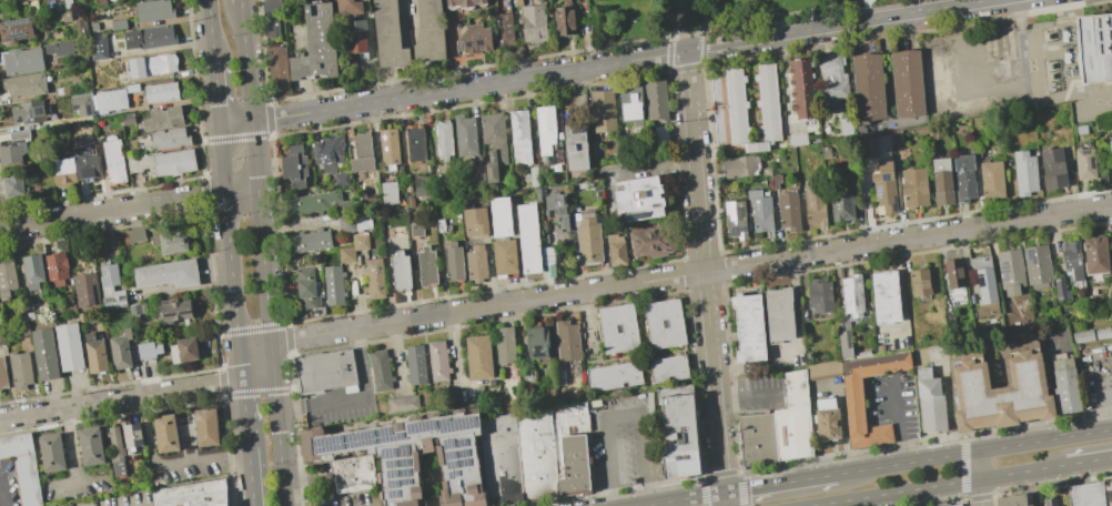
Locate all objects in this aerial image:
building: (100, 1)
building: (463, 2)
building: (67, 3)
building: (58, 6)
building: (271, 7)
building: (347, 7)
park: (751, 8)
building: (152, 10)
road: (870, 10)
road: (684, 12)
building: (65, 16)
road: (779, 16)
park: (706, 18)
building: (563, 20)
rooftop solar panel: (16, 22)
building: (534, 23)
building: (118, 24)
road: (837, 24)
building: (271, 26)
building: (503, 26)
building: (79, 27)
building: (16, 30)
road: (210, 30)
building: (429, 31)
rooftop solar panel: (16, 34)
building: (388, 34)
building: (149, 37)
building: (356, 38)
road: (685, 38)
building: (473, 39)
building: (315, 44)
building: (59, 48)
building: (98, 48)
building: (1094, 49)
building: (21, 60)
building: (152, 64)
power substation: (1021, 64)
building: (276, 70)
building: (123, 78)
building: (831, 79)
building: (907, 82)
building: (24, 84)
road: (468, 85)
building: (868, 87)
building: (801, 88)
building: (161, 92)
road: (215, 93)
building: (655, 99)
building: (110, 101)
building: (630, 103)
building: (81, 105)
building: (744, 107)
building: (602, 110)
building: (30, 112)
building: (163, 118)
building: (128, 119)
road: (236, 123)
building: (1098, 125)
rooftop solar panel: (578, 128)
building: (544, 129)
building: (494, 132)
building: (19, 134)
road: (253, 135)
building: (660, 135)
building: (465, 136)
building: (519, 136)
building: (169, 138)
building: (797, 139)
building: (443, 140)
building: (416, 143)
building: (1110, 145)
building: (388, 146)
building: (575, 148)
building: (1083, 151)
building: (328, 153)
building: (362, 153)
rooftop solar panel: (1084, 153)
building: (10, 154)
building: (113, 160)
building: (163, 161)
building: (84, 162)
rooftop solar panel: (1091, 164)
building: (491, 165)
building: (738, 165)
building: (1111, 165)
building: (293, 166)
building: (1054, 168)
building: (1102, 168)
building: (62, 172)
building: (478, 172)
building: (1110, 172)
building: (1023, 173)
building: (533, 176)
building: (341, 178)
building: (963, 178)
building: (439, 180)
building: (941, 180)
building: (991, 180)
building: (775, 181)
building: (12, 184)
building: (421, 186)
building: (913, 188)
road: (242, 191)
building: (388, 193)
building: (539, 193)
rooftop solar panel: (878, 193)
building: (881, 196)
building: (638, 198)
building: (841, 200)
building: (311, 202)
building: (815, 205)
rooftop solar panel: (894, 208)
building: (556, 210)
building: (759, 210)
road: (113, 211)
rooftop solar panel: (729, 211)
rooftop solar panel: (739, 211)
building: (788, 211)
building: (499, 215)
rooftop solar panel: (636, 215)
building: (345, 216)
building: (735, 219)
building: (475, 221)
building: (442, 226)
building: (416, 229)
rooftop solar panel: (736, 231)
building: (135, 235)
building: (587, 236)
building: (528, 239)
building: (171, 241)
building: (311, 241)
building: (650, 242)
building: (353, 247)
building: (615, 250)
road: (264, 252)
building: (1095, 253)
rooftop solar panel: (1030, 254)
building: (505, 256)
building: (1072, 257)
building: (453, 263)
building: (476, 263)
rooftop solar panel: (1002, 264)
road: (232, 265)
building: (427, 266)
building: (1038, 266)
building: (55, 267)
building: (548, 270)
building: (32, 271)
rooftop solar panel: (103, 271)
building: (1010, 271)
building: (400, 272)
building: (1111, 272)
building: (166, 273)
rooftop solar panel: (1003, 274)
building: (7, 276)
building: (373, 277)
road: (704, 279)
building: (919, 280)
rooftop solar panel: (105, 282)
building: (956, 282)
building: (333, 284)
building: (110, 286)
building: (984, 286)
building: (306, 287)
building: (85, 289)
building: (1060, 289)
building: (852, 294)
building: (820, 295)
road: (548, 296)
building: (886, 296)
building: (808, 302)
building: (1106, 308)
building: (134, 310)
building: (174, 310)
rooftop solar panel: (185, 310)
rooftop solar panel: (169, 313)
building: (779, 313)
building: (949, 316)
building: (1111, 316)
building: (664, 323)
building: (748, 326)
building: (617, 327)
building: (1102, 333)
building: (1082, 336)
building: (843, 338)
building: (566, 341)
building: (537, 344)
building: (504, 345)
building: (69, 347)
building: (880, 348)
building: (120, 350)
building: (149, 350)
building: (182, 350)
rooftop solar panel: (539, 350)
building: (94, 353)
building: (44, 354)
parking lot: (937, 355)
building: (478, 357)
building: (437, 361)
building: (415, 364)
building: (1111, 364)
building: (668, 367)
building: (326, 370)
building: (380, 370)
road: (732, 370)
building: (20, 371)
building: (822, 371)
building: (2, 374)
building: (527, 374)
building: (613, 375)
building: (560, 377)
building: (1065, 385)
building: (1001, 387)
building: (0, 391)
parking lot: (760, 394)
road: (747, 396)
road: (354, 397)
building: (855, 401)
building: (930, 401)
building: (402, 403)
parking lot: (893, 404)
road: (950, 409)
road: (624, 412)
building: (793, 419)
building: (828, 419)
rooftop solar panel: (461, 422)
rooftop solar panel: (427, 424)
road: (900, 426)
building: (206, 427)
road: (843, 429)
building: (679, 432)
rooftop solar panel: (390, 433)
building: (166, 434)
rooftop solar panel: (362, 436)
building: (133, 437)
rooftop solar panel: (451, 439)
rooftop solar panel: (464, 439)
building: (757, 439)
rooftop solar panel: (331, 441)
parking lot: (625, 442)
road: (72, 446)
building: (91, 446)
building: (572, 447)
rooftop solar panel: (406, 449)
rooftop solar panel: (388, 451)
rooftop solar panel: (466, 451)
building: (115, 452)
road: (973, 452)
building: (52, 453)
road: (253, 454)
building: (537, 455)
building: (415, 456)
rooftop solar panel: (452, 456)
rooftop solar panel: (405, 457)
rooftop solar panel: (466, 459)
building: (503, 459)
rooftop solar panel: (393, 461)
road: (1089, 461)
rooftop solar panel: (456, 462)
road: (978, 465)
building: (22, 466)
parking lot: (188, 467)
road: (165, 468)
rooftop solar panel: (406, 470)
rooftop solar panel: (394, 472)
rooftop solar panel: (456, 472)
building: (352, 473)
rooftop solar panel: (395, 478)
rooftop solar panel: (408, 478)
road: (809, 479)
parking lot: (8, 483)
road: (75, 484)
road: (939, 485)
parking lot: (78, 486)
road: (751, 487)
rooftop solar panel: (396, 490)
road: (980, 492)
road: (1, 493)
traffic signals: (724, 493)
building: (192, 494)
building: (1086, 494)
parking lot: (346, 498)
parking lot: (119, 499)
road: (683, 499)
building: (1013, 500)
building: (1049, 502)
building: (956, 505)
building: (1059, 505)

